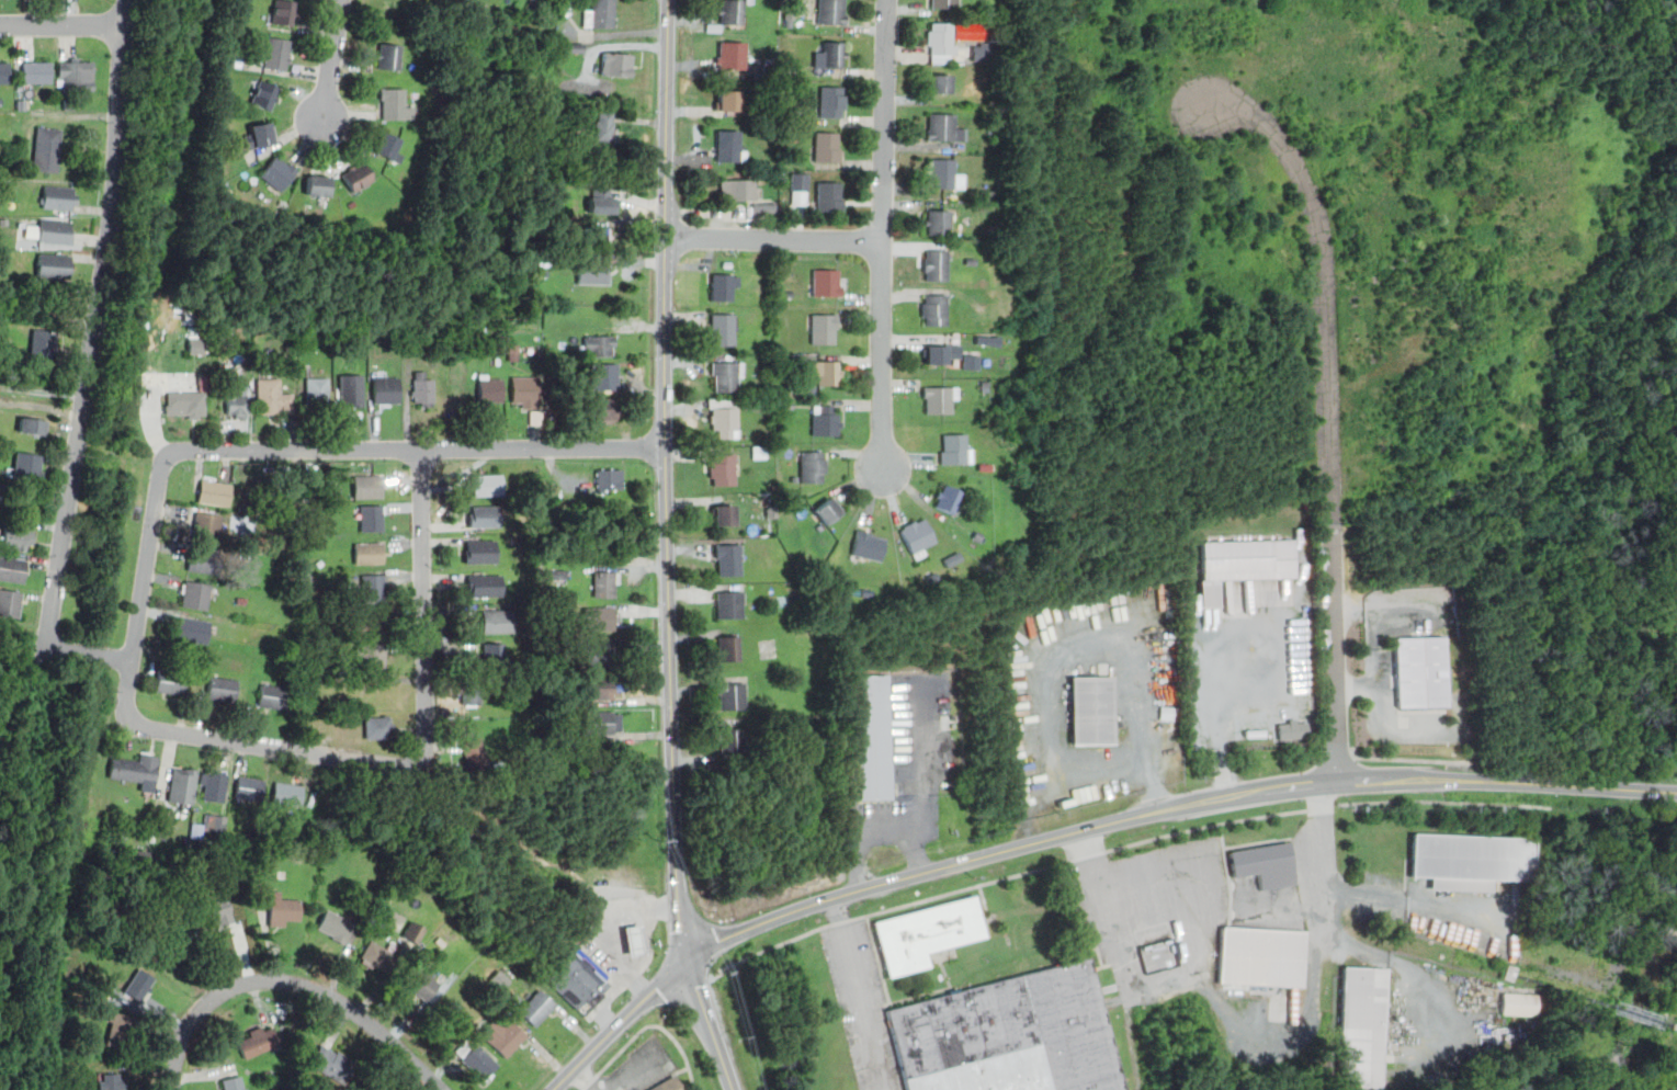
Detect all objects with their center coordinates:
building: (944, 3)
building: (729, 11)
building: (830, 11)
building: (284, 12)
building: (599, 13)
road: (63, 26)
building: (941, 37)
building: (984, 52)
building: (277, 53)
building: (730, 54)
building: (834, 54)
building: (388, 55)
road: (330, 59)
building: (616, 64)
building: (4, 71)
building: (36, 71)
building: (73, 77)
building: (939, 82)
building: (265, 94)
building: (727, 99)
building: (832, 101)
building: (394, 104)
building: (604, 126)
building: (943, 127)
building: (258, 135)
building: (385, 144)
building: (729, 145)
building: (827, 146)
building: (46, 148)
building: (279, 172)
building: (944, 174)
building: (358, 177)
building: (317, 185)
building: (798, 188)
building: (738, 189)
building: (58, 196)
building: (829, 196)
building: (601, 200)
building: (763, 207)
building: (938, 220)
building: (56, 231)
road: (883, 234)
building: (599, 235)
road: (774, 239)
building: (54, 264)
building: (936, 264)
building: (593, 272)
building: (825, 282)
road: (1326, 282)
building: (724, 286)
building: (934, 309)
road: (95, 325)
building: (723, 328)
building: (824, 328)
building: (987, 340)
building: (43, 345)
building: (195, 345)
building: (600, 345)
building: (513, 352)
building: (940, 352)
building: (971, 361)
building: (827, 371)
building: (726, 375)
building: (604, 376)
building: (317, 387)
building: (422, 388)
building: (351, 389)
building: (386, 389)
building: (490, 389)
road: (43, 390)
building: (525, 390)
building: (272, 396)
building: (939, 399)
building: (237, 401)
building: (185, 405)
building: (603, 408)
building: (724, 413)
building: (825, 420)
building: (33, 425)
road: (423, 447)
building: (953, 447)
building: (29, 466)
building: (813, 466)
building: (722, 469)
building: (610, 478)
road: (666, 481)
building: (486, 484)
building: (369, 486)
building: (214, 492)
building: (949, 498)
building: (828, 510)
building: (724, 514)
building: (484, 515)
building: (371, 518)
building: (207, 525)
building: (918, 536)
building: (16, 537)
building: (602, 545)
building: (869, 545)
building: (480, 550)
building: (369, 552)
building: (727, 558)
building: (201, 560)
building: (1243, 564)
building: (12, 568)
building: (558, 580)
building: (604, 583)
building: (485, 586)
building: (373, 587)
building: (194, 593)
road: (423, 597)
building: (10, 603)
building: (729, 604)
building: (601, 617)
building: (499, 621)
building: (370, 622)
road: (1380, 625)
building: (192, 628)
building: (728, 647)
road: (134, 649)
building: (494, 652)
building: (599, 652)
road: (1067, 654)
road: (1335, 654)
road: (90, 655)
building: (370, 655)
building: (1421, 672)
building: (170, 682)
building: (598, 686)
building: (223, 688)
building: (471, 691)
building: (272, 695)
building: (732, 695)
building: (1092, 711)
road: (1380, 714)
building: (602, 722)
building: (378, 727)
building: (1293, 729)
building: (871, 737)
building: (729, 740)
road: (1221, 747)
building: (473, 753)
road: (1346, 758)
road: (352, 759)
road: (1417, 759)
building: (137, 769)
road: (921, 777)
road: (1417, 780)
building: (182, 785)
building: (213, 786)
building: (248, 788)
building: (286, 793)
road: (1443, 803)
road: (1325, 806)
building: (211, 826)
road: (1188, 829)
road: (863, 832)
road: (1321, 858)
building: (1471, 861)
building: (1267, 864)
road: (919, 875)
road: (1403, 900)
building: (283, 909)
building: (216, 910)
road: (886, 911)
building: (335, 926)
road: (608, 929)
building: (413, 932)
building: (927, 934)
building: (634, 942)
building: (174, 946)
building: (377, 954)
building: (1262, 957)
road: (1124, 962)
traffic signals: (690, 964)
building: (1510, 973)
building: (577, 979)
gas station: (577, 979)
road: (291, 983)
building: (421, 983)
road: (703, 983)
building: (139, 984)
road: (857, 994)
road: (609, 1000)
building: (1519, 1003)
building: (537, 1007)
river: (1641, 1017)
road: (620, 1023)
road: (710, 1026)
building: (1361, 1027)
building: (117, 1030)
road: (1287, 1031)
building: (503, 1035)
building: (1010, 1035)
building: (257, 1040)
road: (620, 1054)
road: (684, 1054)
building: (477, 1059)
building: (332, 1061)
building: (112, 1081)
building: (233, 1082)
building: (667, 1083)

